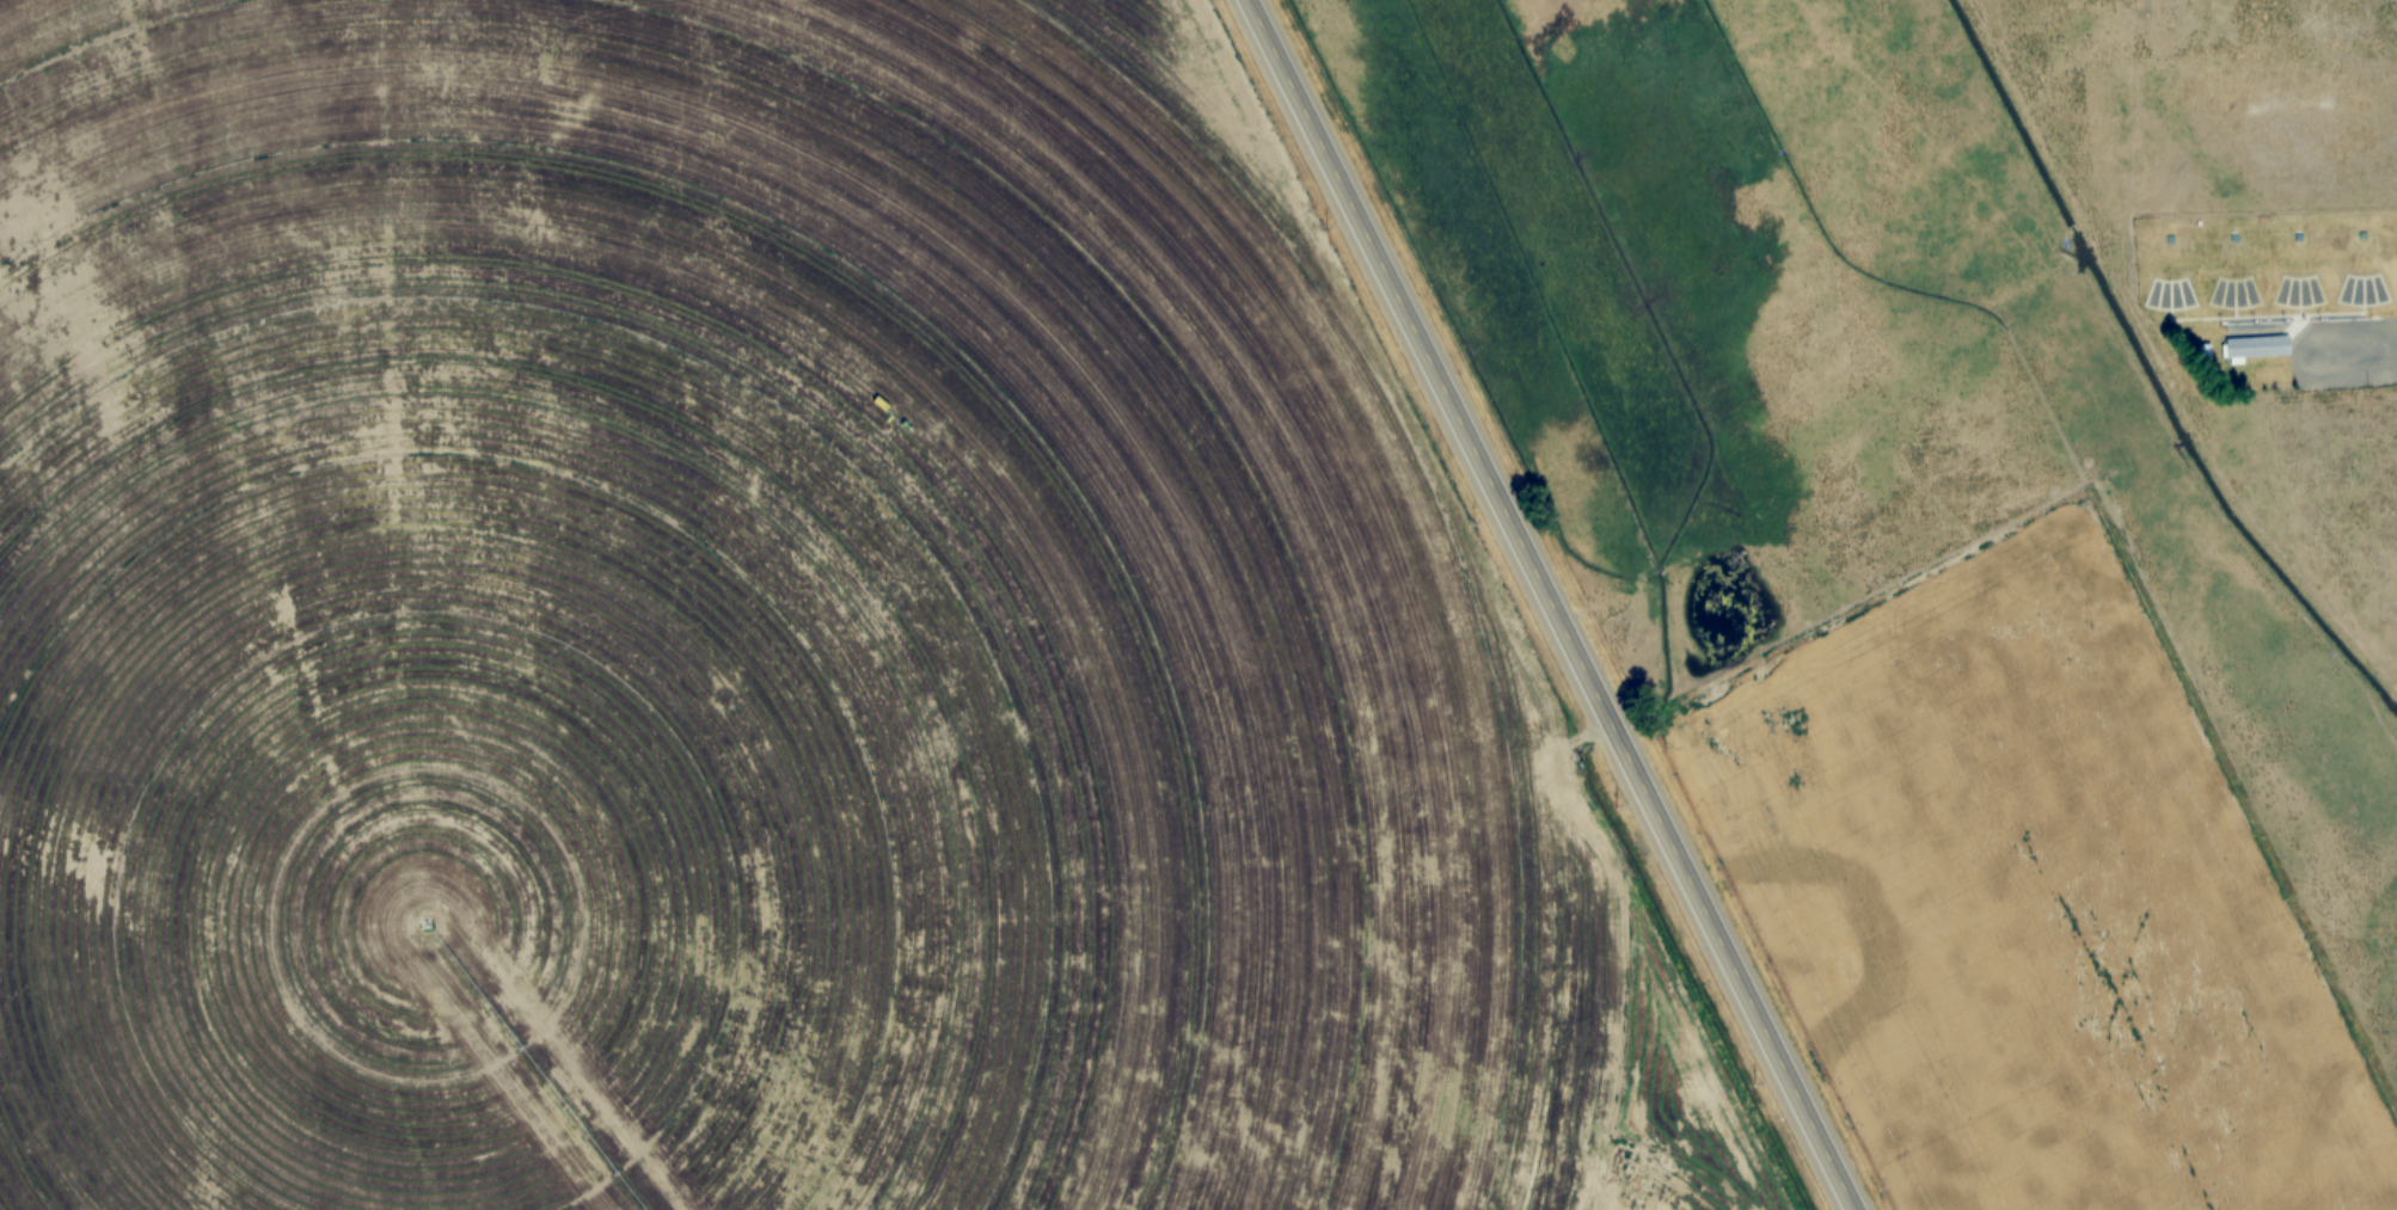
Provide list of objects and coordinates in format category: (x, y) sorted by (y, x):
building: (2257, 346)
road: (1550, 604)

